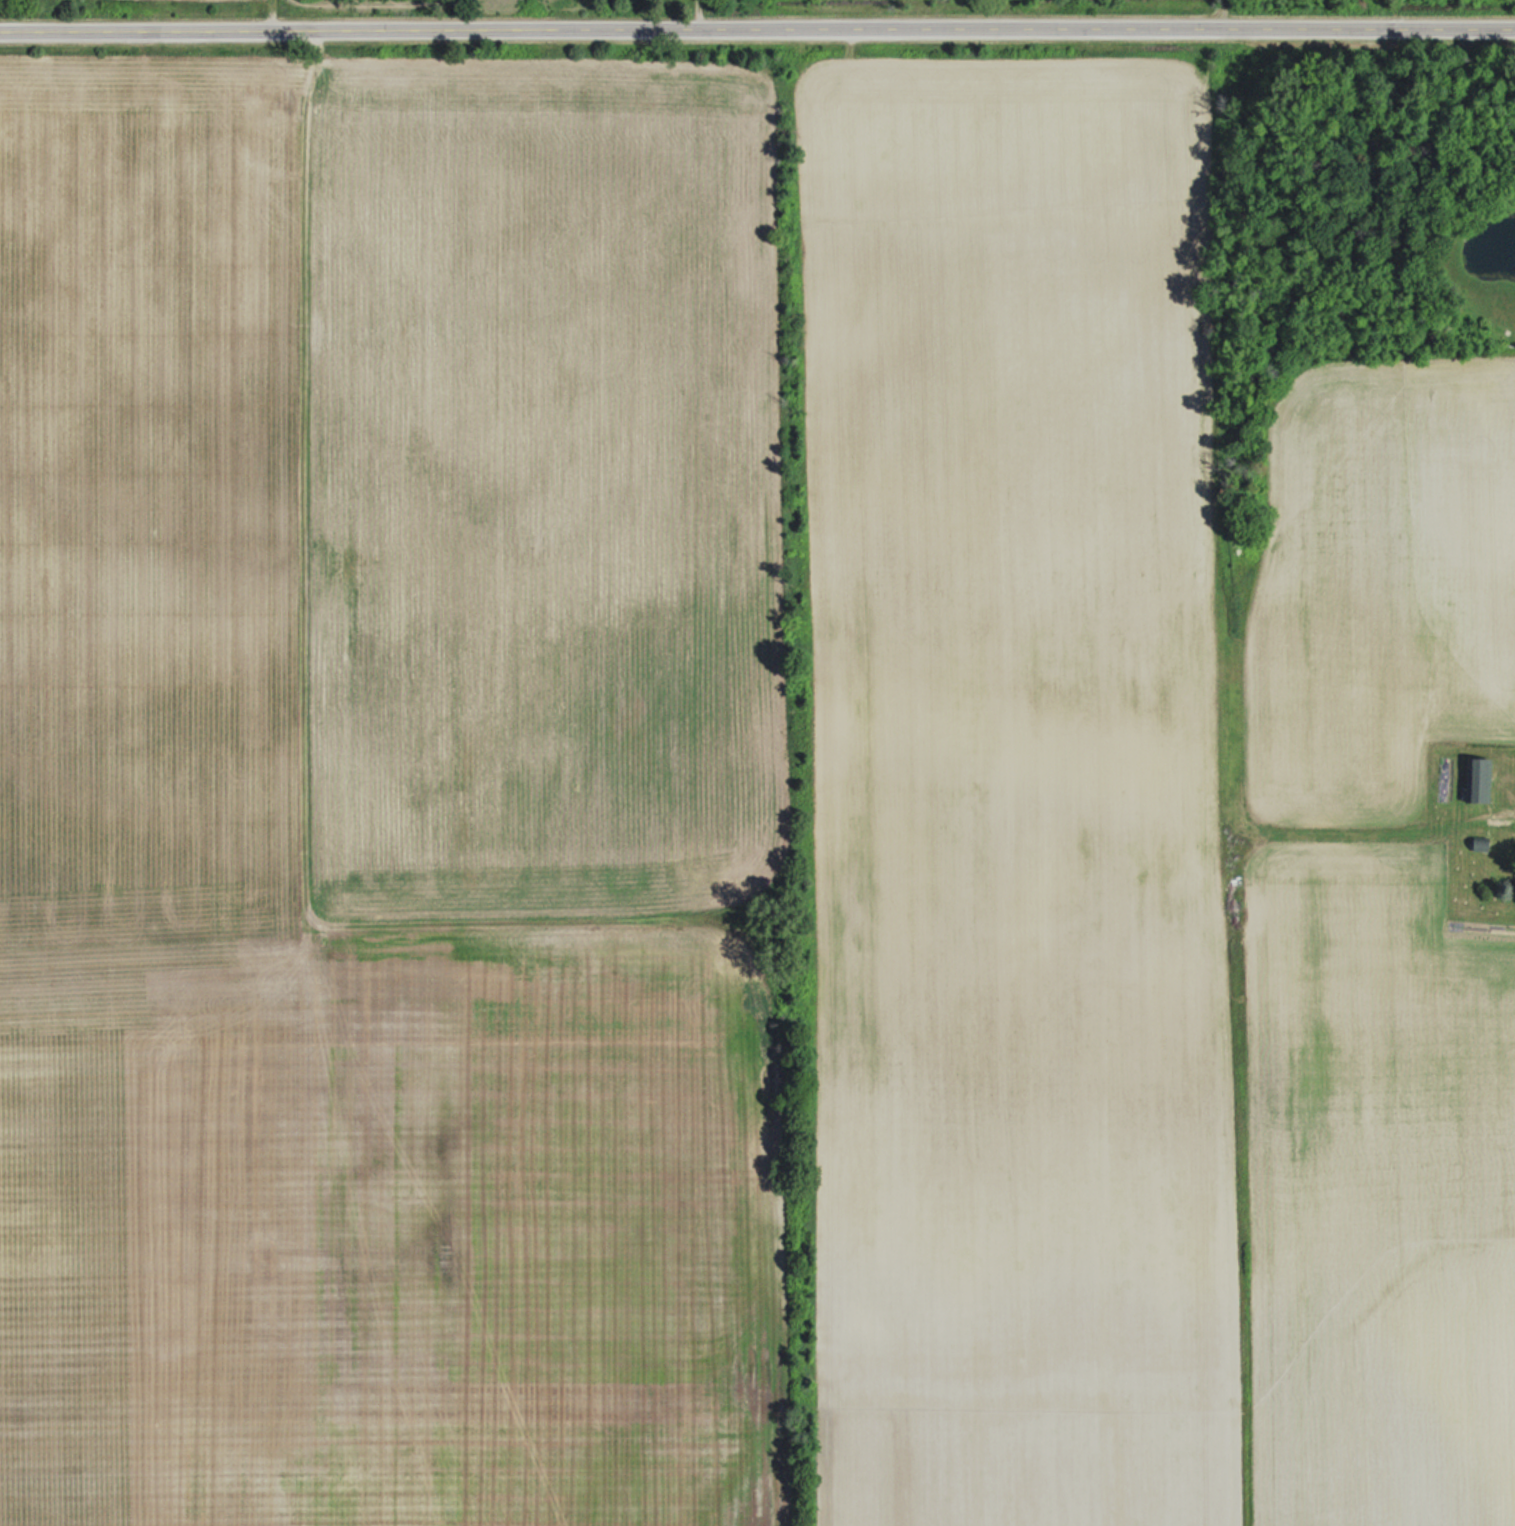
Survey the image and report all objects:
road: (757, 29)

